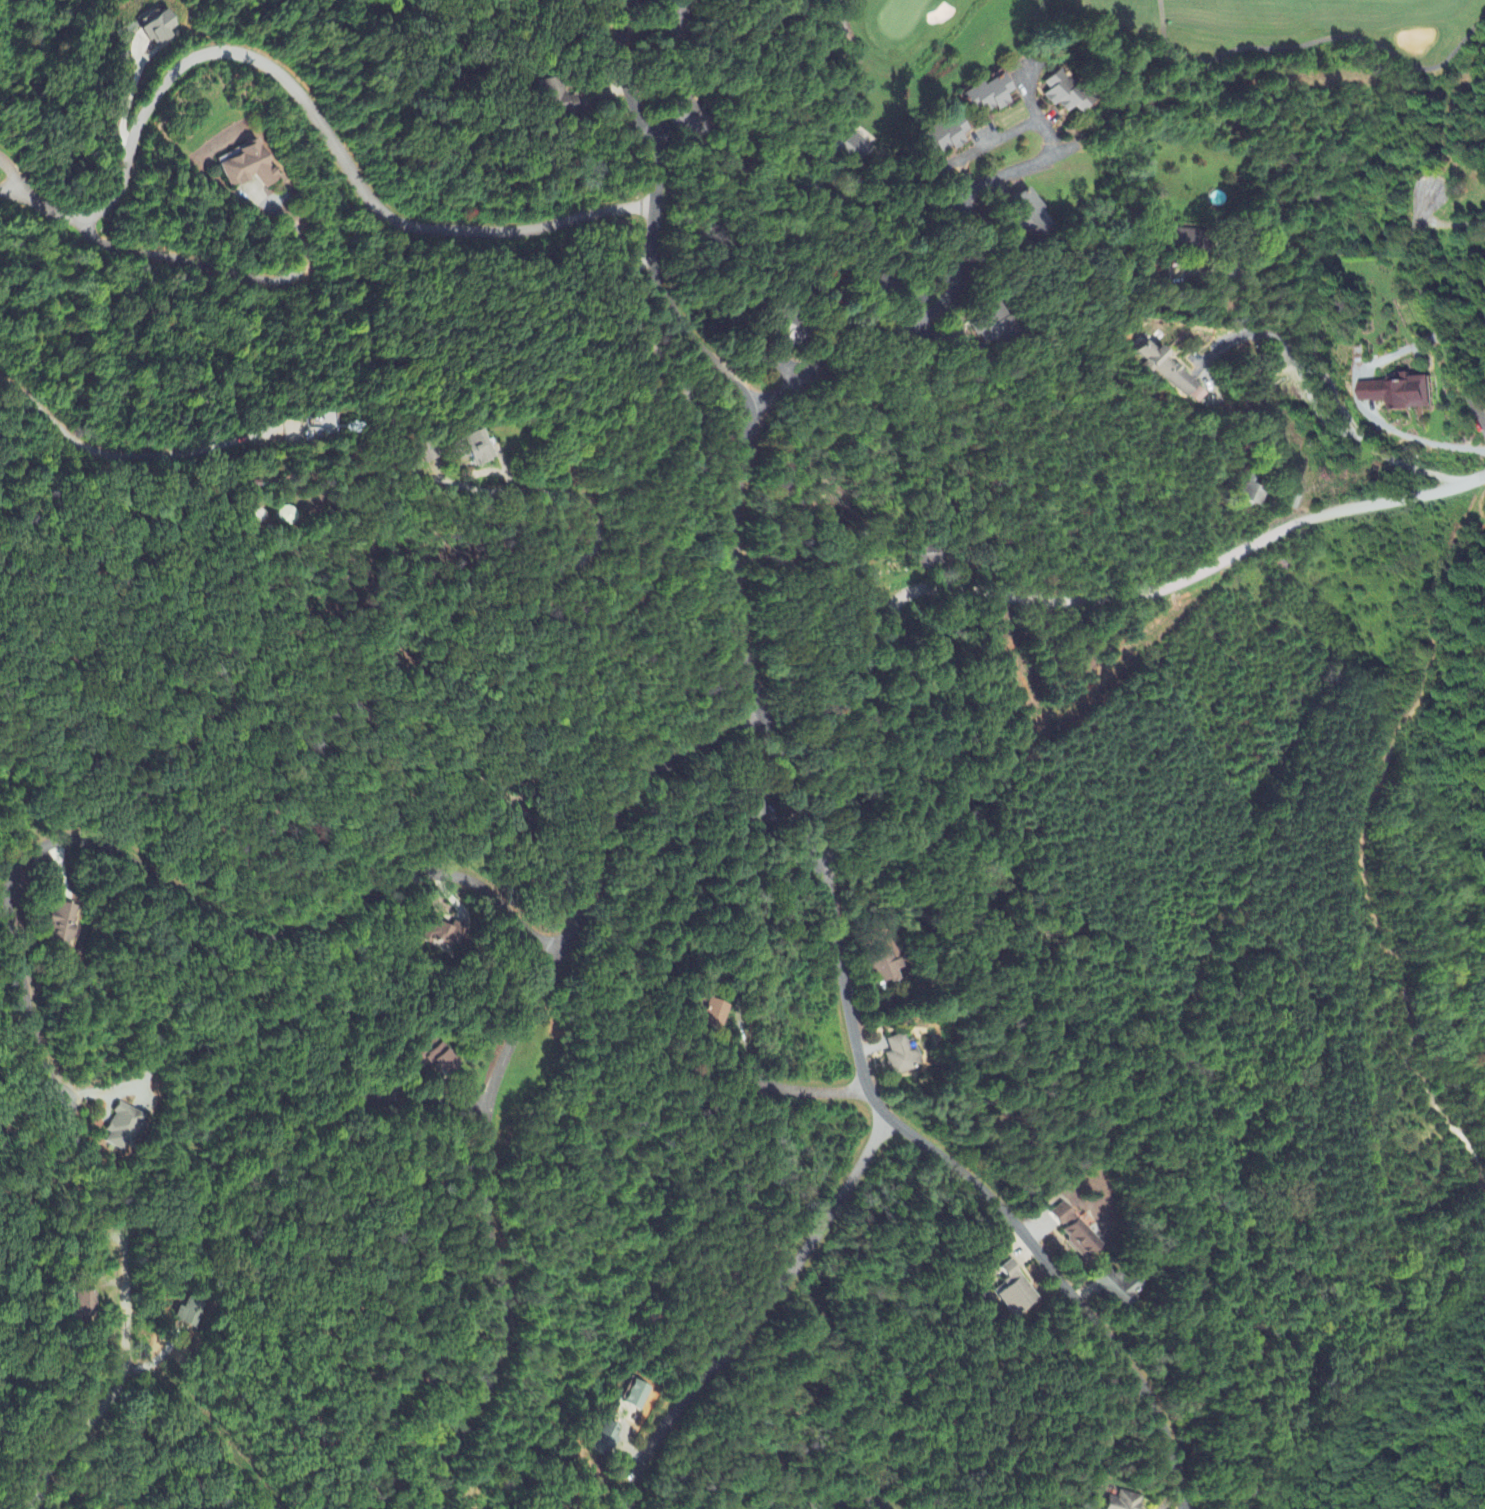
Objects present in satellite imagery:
building: (672, 16)
building: (158, 30)
park: (1202, 32)
road: (296, 92)
building: (1064, 93)
building: (990, 95)
building: (555, 99)
building: (683, 115)
road: (1010, 132)
building: (842, 147)
building: (246, 167)
road: (954, 202)
building: (1026, 216)
road: (1449, 227)
building: (1187, 240)
road: (231, 270)
road: (1429, 312)
building: (989, 323)
road: (887, 327)
building: (789, 330)
road: (1296, 361)
building: (1166, 369)
road: (1331, 384)
building: (1398, 394)
building: (1197, 396)
road: (1360, 411)
building: (472, 450)
building: (1253, 493)
building: (255, 517)
building: (283, 517)
building: (928, 557)
road: (1053, 598)
road: (788, 794)
building: (752, 807)
building: (62, 926)
building: (444, 935)
road: (276, 938)
building: (882, 968)
road: (23, 1007)
building: (712, 1012)
building: (901, 1056)
building: (438, 1058)
road: (502, 1071)
road: (796, 1092)
road: (410, 1110)
building: (122, 1128)
building: (1074, 1233)
building: (1116, 1287)
building: (1014, 1291)
building: (85, 1305)
road: (122, 1306)
building: (189, 1313)
road: (758, 1315)
building: (637, 1395)
road: (207, 1429)
road: (75, 1439)
building: (605, 1439)
building: (1123, 1501)
road: (840, 1506)

